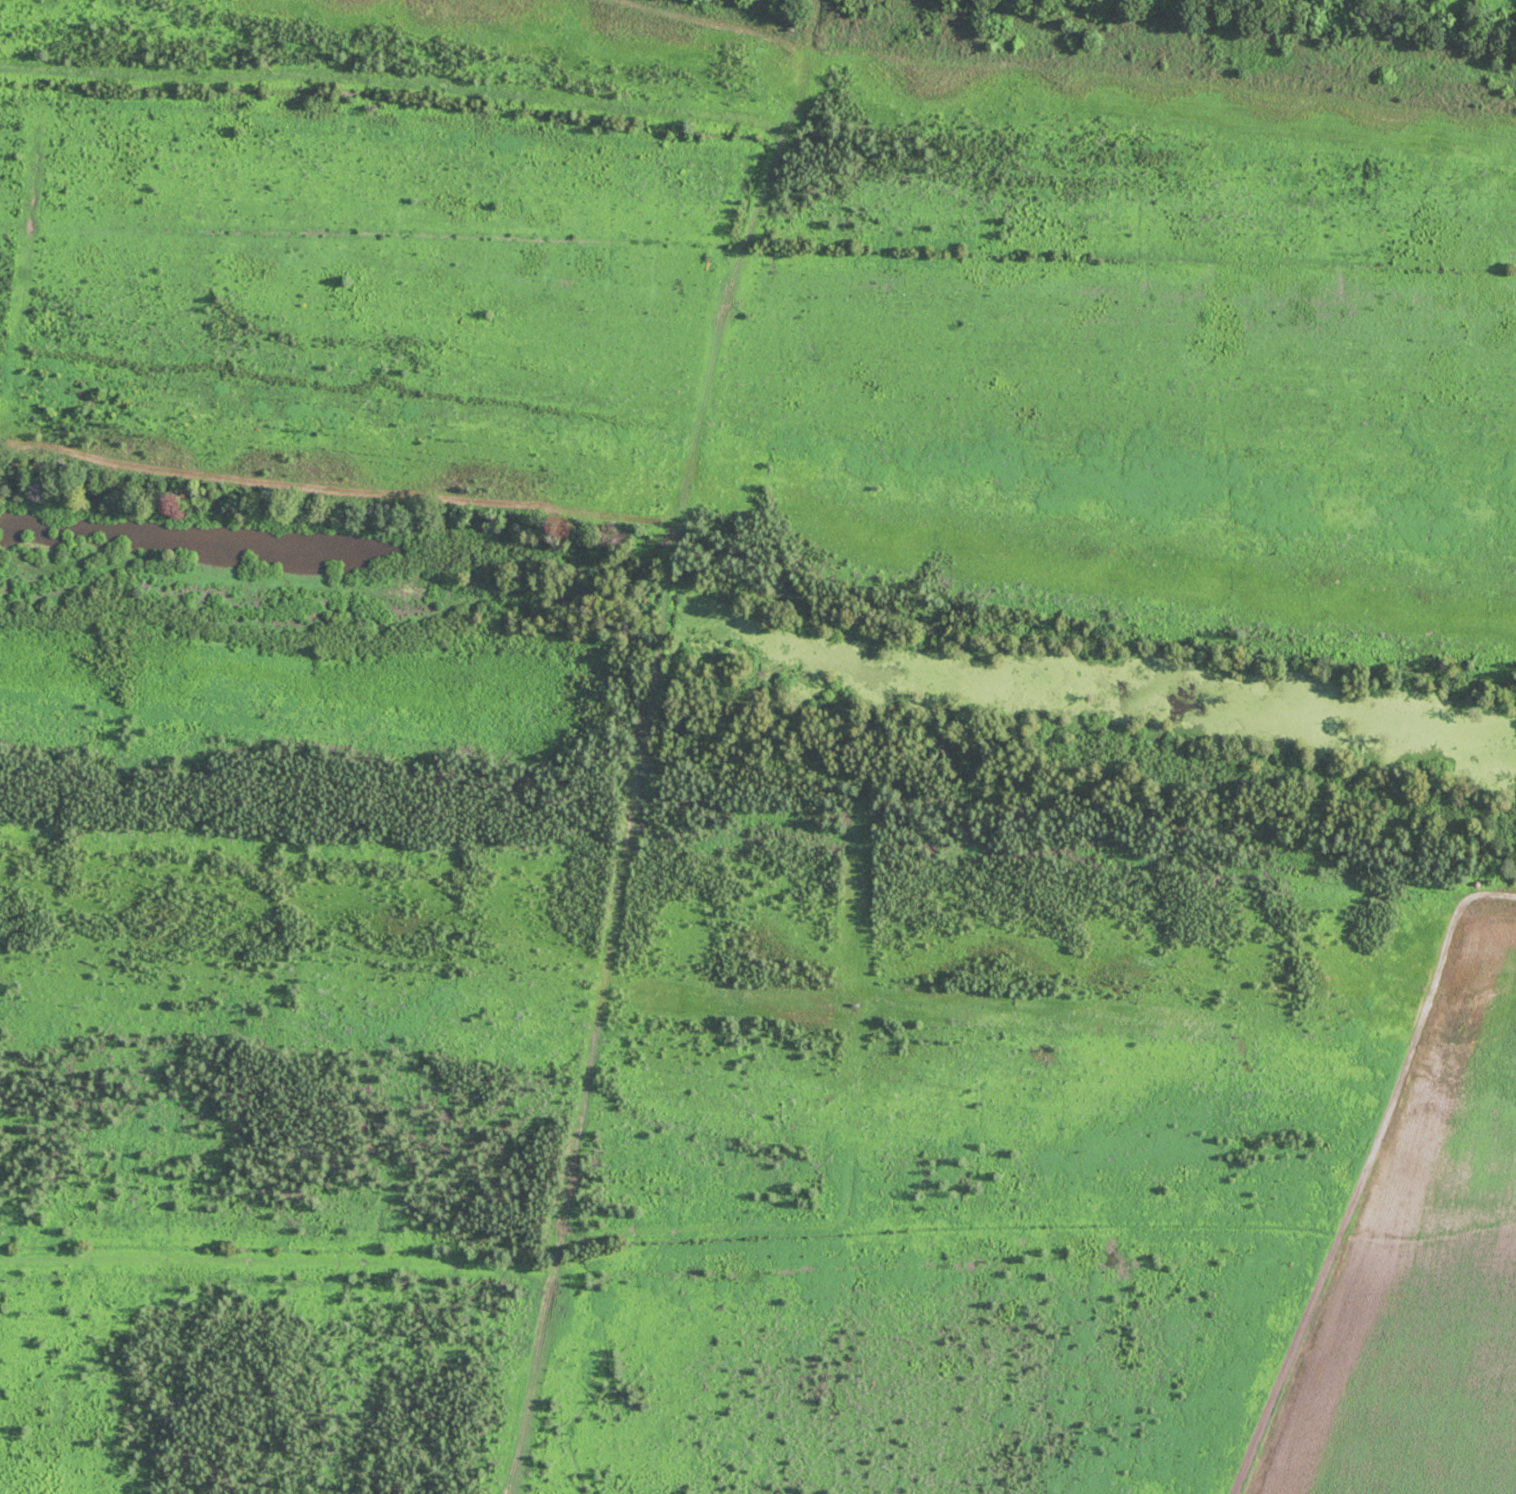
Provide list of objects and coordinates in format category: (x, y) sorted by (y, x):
road: (1214, 30)
road: (348, 401)
road: (641, 741)
road: (1360, 1180)

